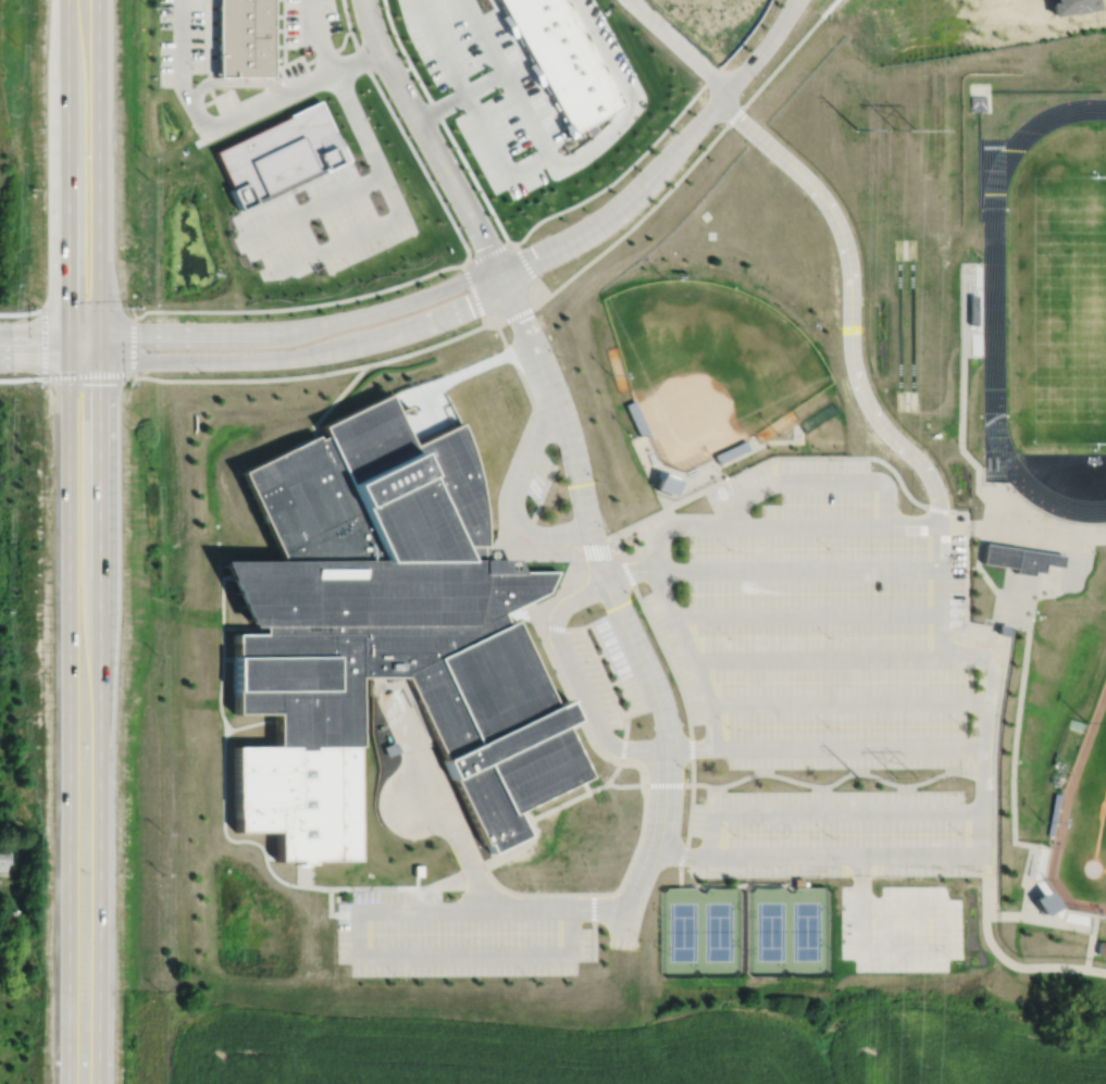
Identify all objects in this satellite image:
street lamp: (158, 15)
street lamp: (339, 18)
street lamp: (385, 20)
road: (780, 20)
road: (786, 20)
building: (506, 22)
road: (313, 37)
building: (243, 38)
road: (680, 43)
building: (562, 59)
street lamp: (158, 65)
building: (533, 71)
street lamp: (479, 72)
street lamp: (755, 76)
road: (234, 80)
road: (509, 84)
street lamp: (219, 91)
road: (460, 96)
road: (630, 96)
road: (473, 109)
road: (231, 115)
power tower: (902, 127)
building: (564, 128)
power tower: (855, 128)
road: (656, 138)
road: (428, 139)
street lamp: (745, 140)
street lamp: (414, 145)
road: (370, 150)
building: (279, 151)
road: (689, 166)
street lamp: (632, 174)
road: (653, 176)
road: (309, 207)
street lamp: (816, 208)
road: (305, 234)
road: (334, 244)
street lamp: (523, 245)
road: (487, 252)
road: (527, 270)
street lamp: (829, 284)
road: (475, 294)
road: (850, 301)
road: (300, 308)
park: (1067, 310)
building: (970, 311)
road: (22, 313)
track: (993, 314)
road: (514, 316)
track: (905, 324)
traffic signals: (69, 331)
traffic signals: (98, 331)
road: (254, 331)
road: (44, 340)
road: (133, 346)
road: (427, 347)
street lamp: (557, 356)
street lamp: (829, 356)
road: (260, 358)
traffic signals: (69, 360)
traffic signals: (98, 360)
road: (481, 364)
park: (706, 364)
road: (88, 373)
road: (250, 377)
road: (408, 393)
road: (339, 394)
road: (428, 412)
building: (730, 451)
road: (813, 457)
road: (522, 469)
parking lot: (534, 475)
street lamp: (595, 479)
road: (818, 481)
road: (505, 482)
building: (660, 484)
road: (535, 504)
road: (708, 526)
road: (834, 526)
road: (1008, 531)
road: (658, 538)
road: (69, 541)
road: (97, 541)
road: (939, 549)
building: (1015, 558)
building: (497, 565)
road: (796, 571)
road: (629, 573)
road: (940, 593)
street lamp: (632, 596)
road: (618, 610)
road: (806, 615)
parking lot: (824, 615)
road: (940, 621)
road: (1009, 624)
road: (566, 627)
building: (998, 630)
building: (382, 636)
road: (940, 643)
road: (599, 655)
road: (691, 657)
road: (816, 658)
road: (955, 658)
road: (982, 659)
parking lot: (608, 673)
road: (602, 675)
road: (574, 683)
road: (612, 683)
road: (621, 689)
road: (847, 705)
road: (408, 735)
road: (847, 747)
road: (689, 749)
road: (982, 758)
street lamp: (686, 771)
power tower: (902, 777)
power tower: (855, 778)
road: (668, 784)
road: (417, 800)
road: (825, 812)
park: (1083, 820)
road: (462, 850)
road: (672, 855)
building: (4, 856)
road: (846, 858)
road: (699, 859)
parking lot: (852, 863)
road: (626, 869)
road: (986, 886)
building: (1042, 902)
street lamp: (1001, 907)
road: (530, 909)
road: (599, 909)
road: (1035, 920)
road: (593, 926)
park: (718, 931)
park: (771, 931)
park: (806, 931)
park: (682, 932)
parking lot: (457, 937)
road: (1091, 939)
building: (1101, 948)
road: (916, 950)
road: (396, 954)
road: (1030, 965)
crop: (636, 1048)

